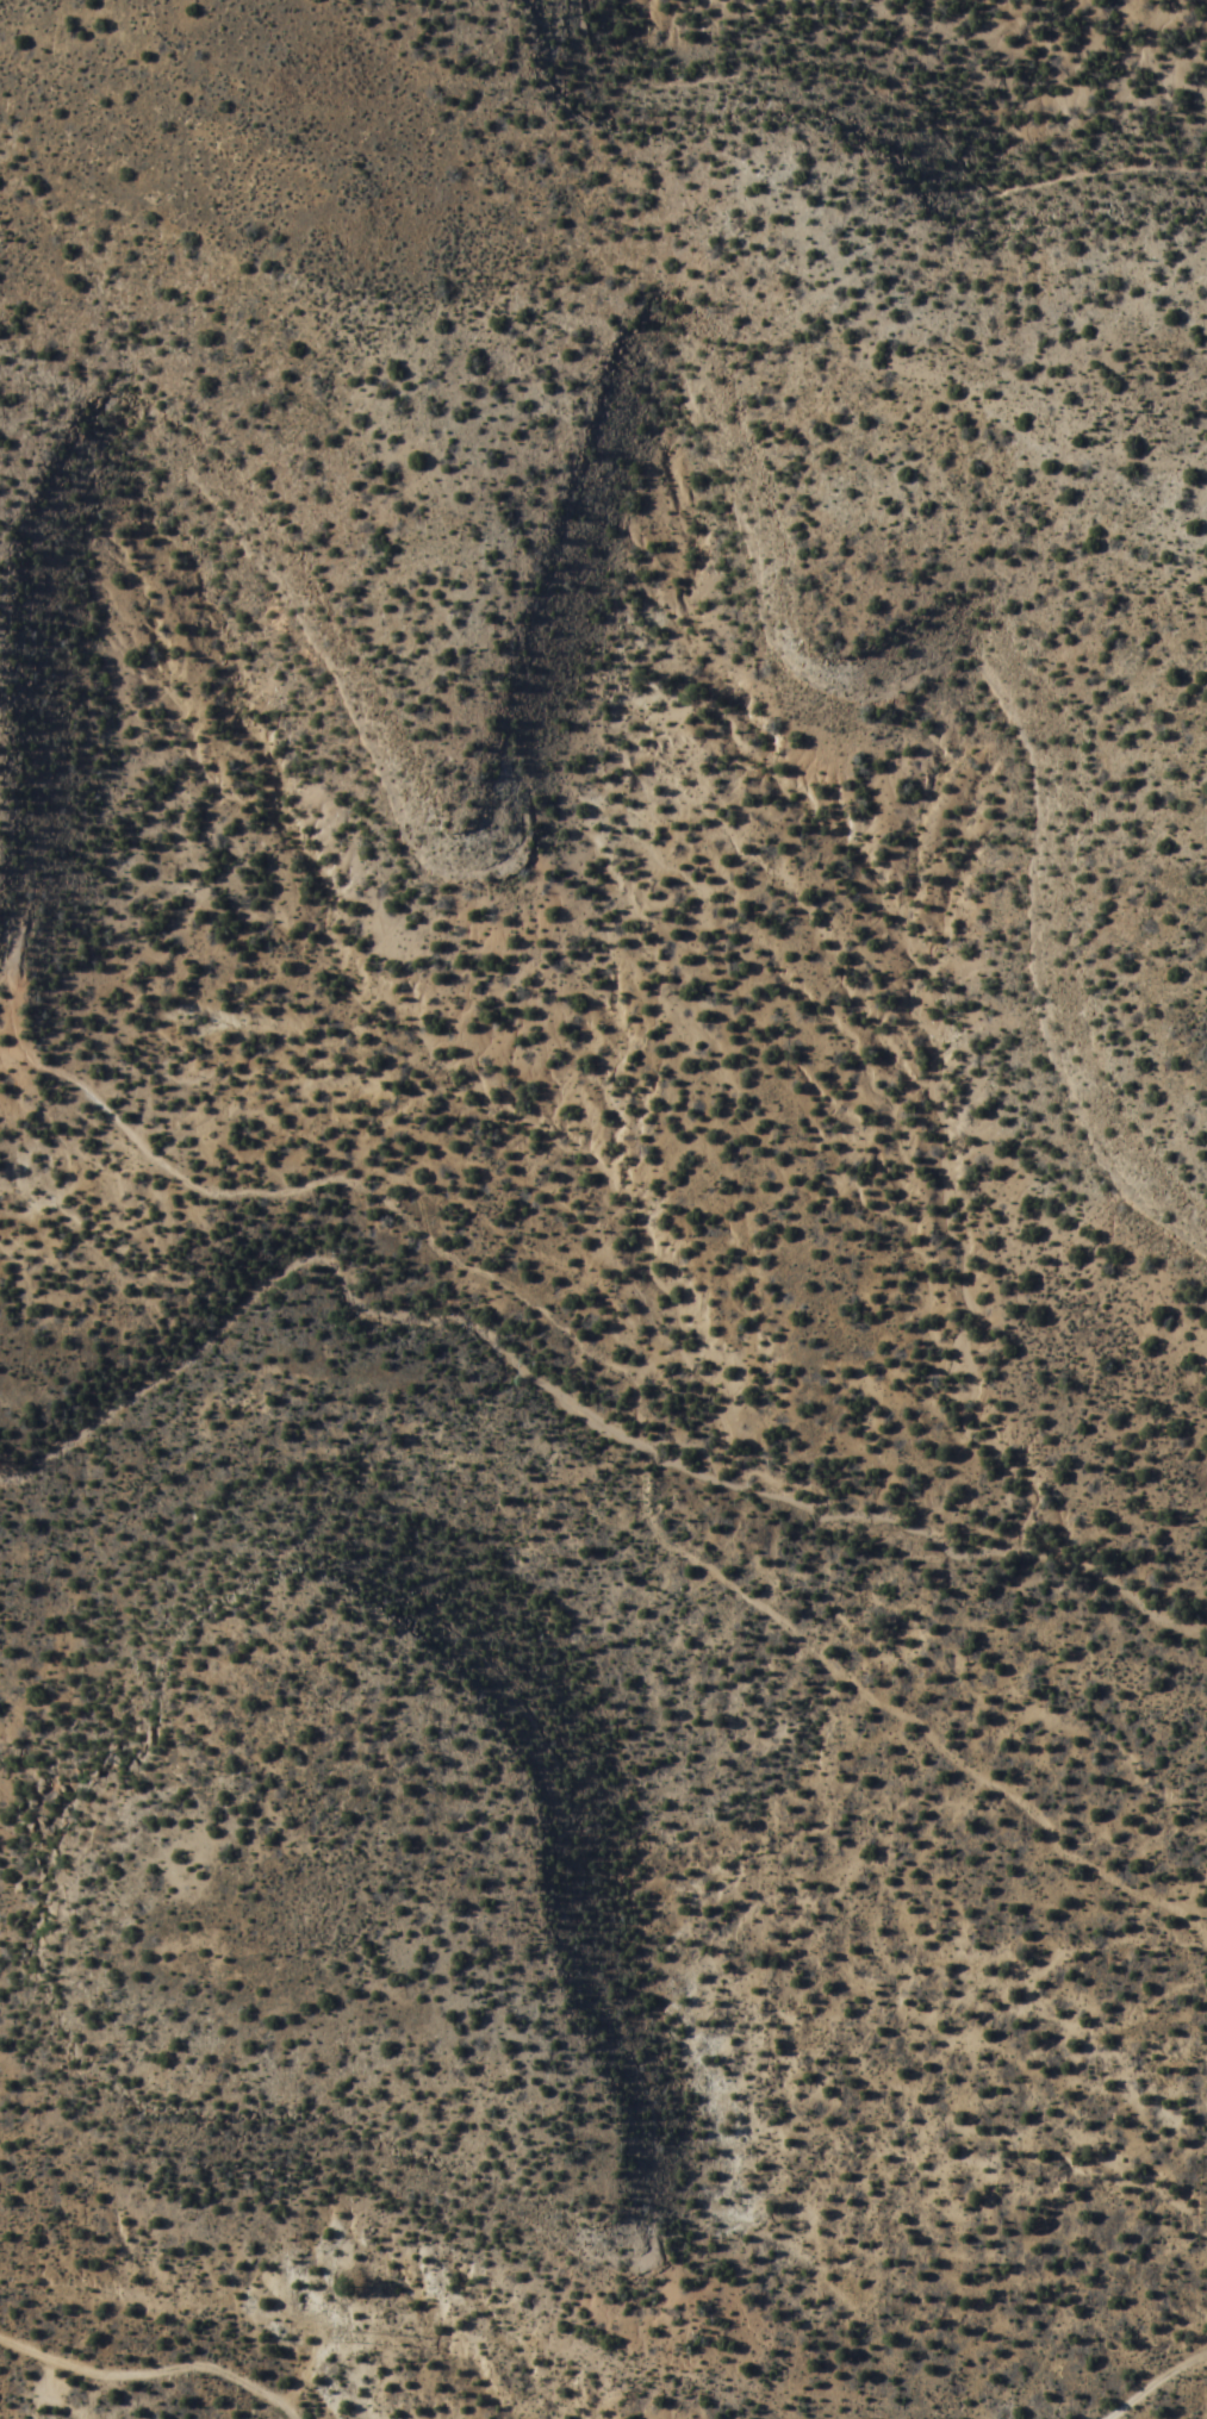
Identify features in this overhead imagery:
road: (150, 2374)
road: (1158, 2382)

